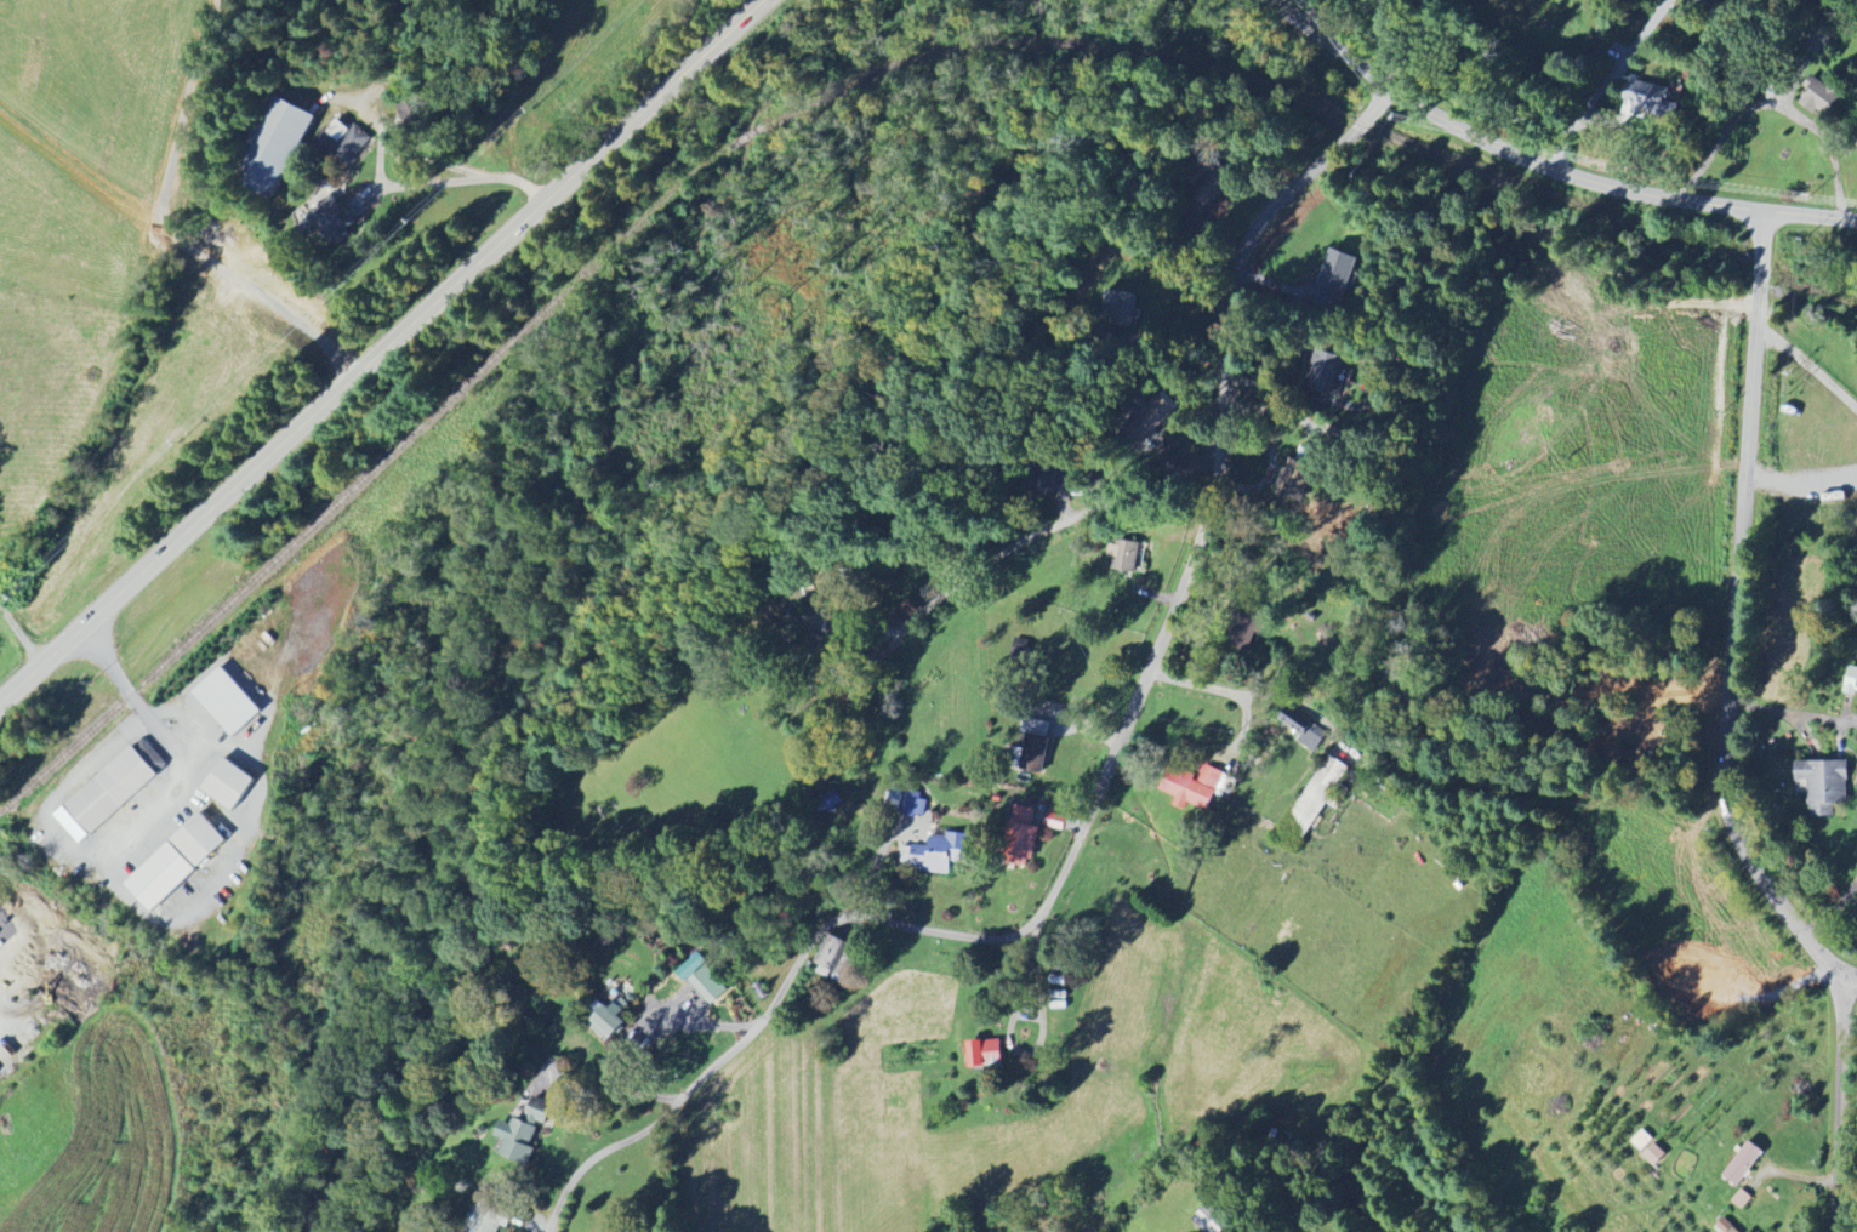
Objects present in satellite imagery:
building: (1718, 4)
road: (1607, 82)
building: (1817, 95)
building: (1651, 97)
railway: (821, 99)
road: (1776, 104)
building: (409, 115)
road: (631, 129)
building: (273, 147)
road: (1545, 162)
building: (331, 218)
building: (1335, 279)
road: (1174, 353)
road: (1810, 364)
building: (1327, 372)
building: (1151, 415)
building: (1294, 480)
road: (1802, 480)
road: (244, 481)
road: (1072, 519)
building: (1123, 555)
road: (1739, 611)
building: (1851, 681)
road: (799, 683)
road: (1234, 691)
road: (136, 701)
building: (226, 702)
road: (1795, 711)
building: (1304, 728)
building: (1036, 746)
building: (227, 785)
building: (1824, 786)
building: (1192, 787)
road: (1103, 788)
building: (104, 795)
building: (1315, 802)
building: (827, 803)
building: (916, 805)
building: (1020, 837)
building: (935, 854)
building: (175, 862)
road: (1835, 908)
building: (828, 956)
building: (704, 980)
building: (608, 1019)
building: (984, 1054)
road: (1845, 1076)
road: (609, 1085)
building: (541, 1093)
building: (1641, 1140)
building: (517, 1141)
building: (1653, 1154)
building: (1743, 1164)
building: (1741, 1199)
building: (484, 1219)
building: (1212, 1219)
building: (1726, 1226)

